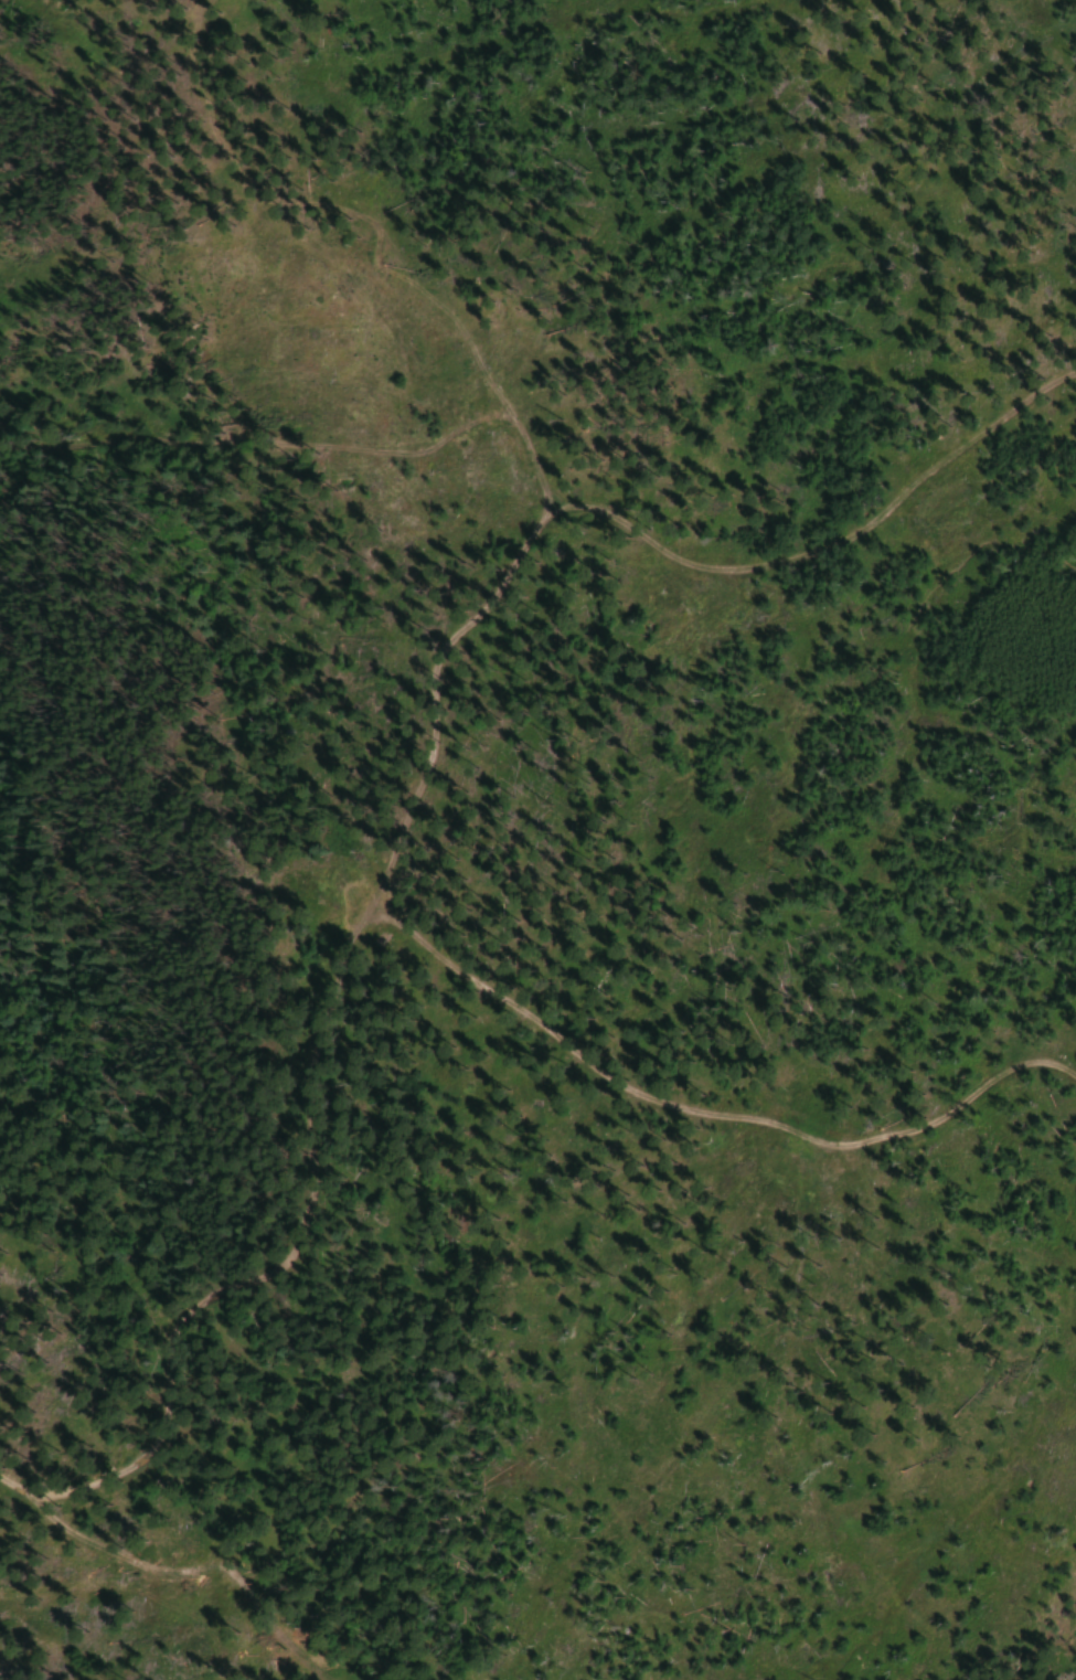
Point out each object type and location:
road: (319, 460)
road: (420, 798)

